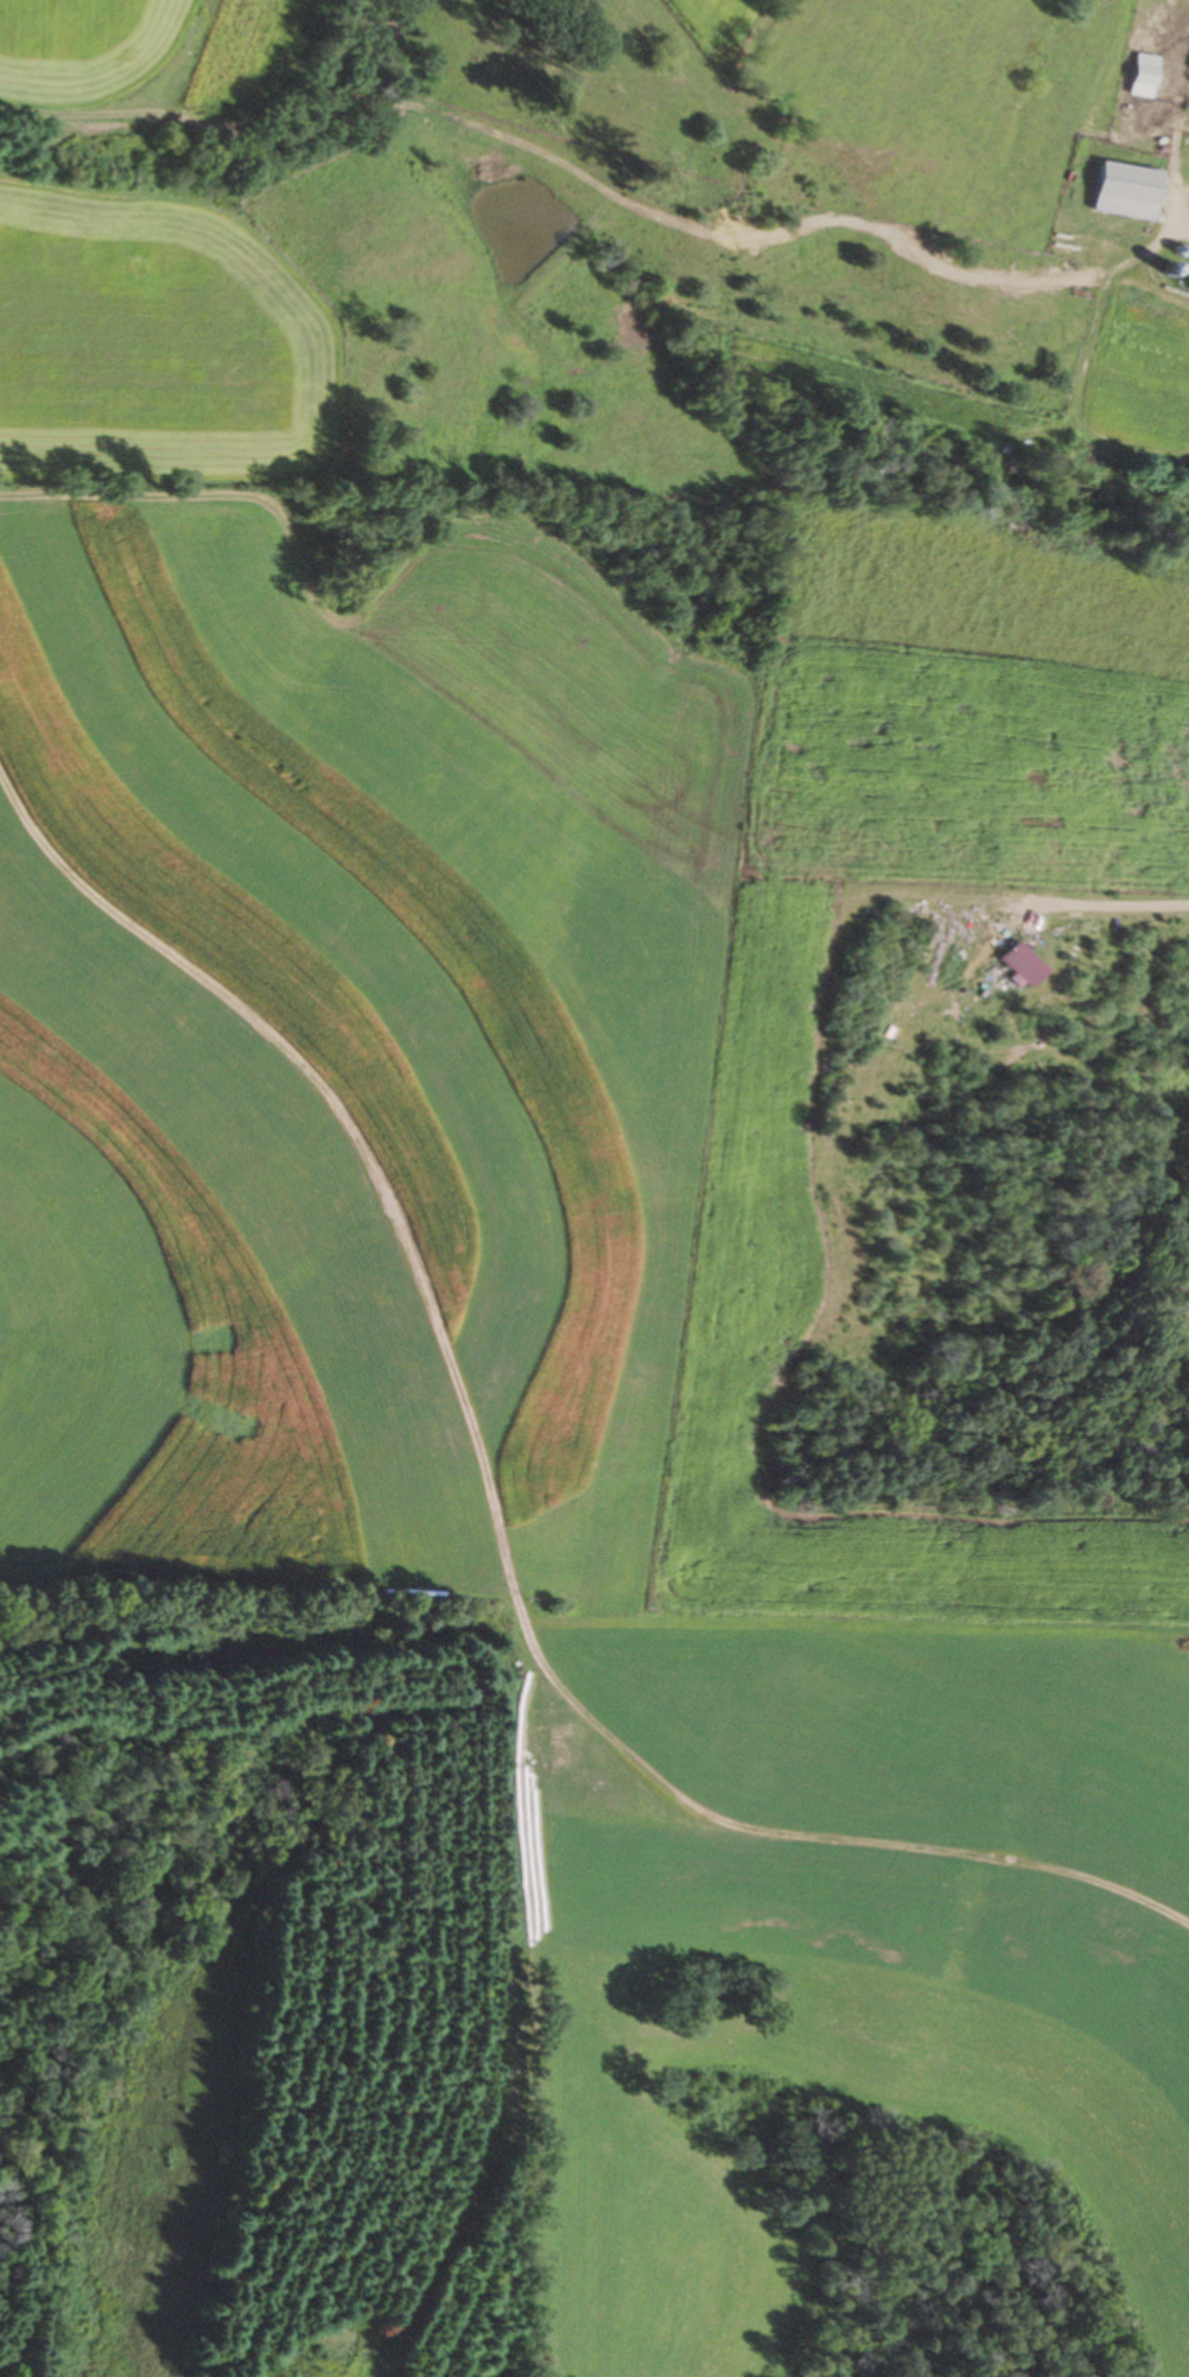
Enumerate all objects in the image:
building: (1128, 184)

